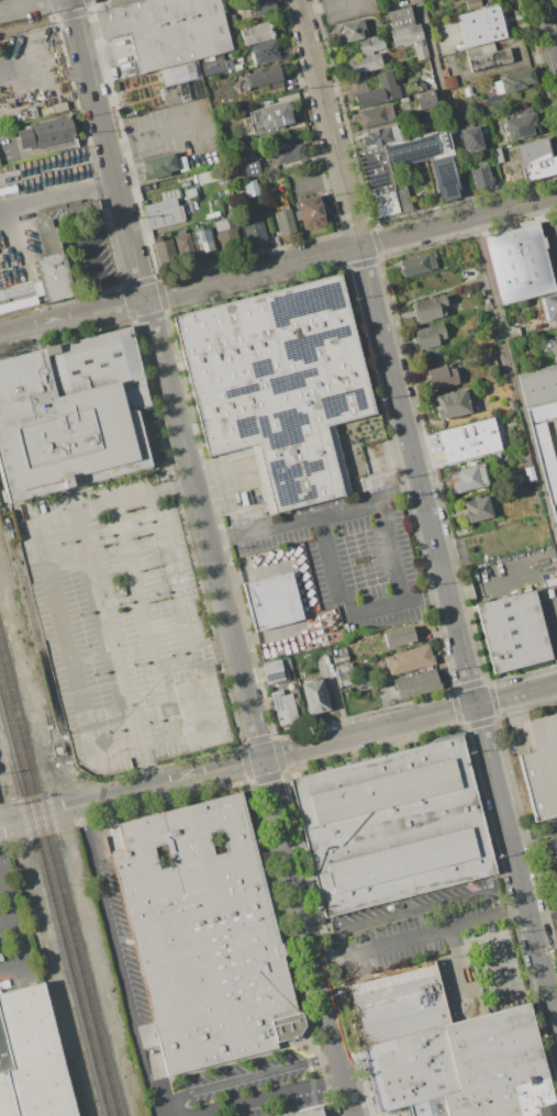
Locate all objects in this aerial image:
building: (471, 3)
road: (26, 5)
road: (321, 5)
building: (261, 7)
road: (552, 19)
building: (480, 25)
building: (167, 30)
building: (352, 30)
road: (79, 31)
building: (405, 31)
building: (255, 32)
building: (370, 44)
building: (264, 52)
building: (486, 56)
road: (12, 63)
building: (363, 63)
building: (215, 66)
building: (265, 78)
building: (512, 80)
building: (448, 81)
building: (177, 82)
building: (375, 90)
building: (424, 100)
building: (375, 115)
building: (269, 116)
building: (520, 124)
road: (101, 126)
building: (46, 134)
building: (378, 135)
road: (154, 136)
building: (470, 137)
building: (286, 153)
building: (489, 158)
building: (181, 164)
building: (247, 164)
building: (158, 167)
building: (538, 169)
building: (375, 175)
building: (479, 175)
building: (208, 176)
building: (444, 178)
building: (250, 187)
road: (58, 194)
building: (163, 210)
building: (309, 211)
road: (553, 212)
building: (282, 222)
building: (253, 227)
building: (226, 234)
building: (182, 242)
building: (203, 242)
road: (132, 244)
road: (88, 245)
building: (57, 247)
parking lot: (89, 252)
building: (164, 253)
building: (519, 263)
road: (279, 265)
building: (415, 265)
road: (488, 270)
building: (19, 297)
building: (549, 306)
building: (427, 309)
building: (427, 336)
road: (1, 337)
building: (554, 348)
road: (386, 353)
building: (483, 361)
building: (442, 377)
building: (278, 382)
building: (538, 387)
building: (450, 404)
building: (541, 412)
building: (71, 416)
building: (556, 431)
building: (468, 439)
building: (548, 464)
building: (468, 478)
building: (514, 490)
building: (477, 509)
road: (313, 512)
building: (554, 514)
road: (204, 528)
road: (392, 549)
parking lot: (349, 554)
road: (301, 593)
road: (177, 595)
road: (54, 601)
building: (272, 602)
road: (348, 605)
road: (143, 621)
parking lot: (125, 625)
building: (512, 630)
building: (398, 637)
road: (108, 652)
building: (408, 659)
building: (271, 671)
building: (345, 673)
building: (415, 682)
road: (516, 694)
building: (313, 695)
road: (338, 705)
building: (282, 706)
road: (293, 749)
building: (541, 769)
road: (56, 811)
railway: (52, 819)
building: (392, 826)
road: (534, 835)
building: (550, 845)
road: (516, 863)
railway: (58, 883)
railway: (54, 902)
road: (417, 911)
road: (12, 914)
road: (544, 916)
railway: (49, 919)
road: (7, 920)
building: (205, 934)
road: (309, 936)
road: (422, 938)
parking lot: (442, 944)
road: (328, 945)
road: (291, 948)
road: (120, 959)
road: (498, 959)
road: (14, 963)
road: (461, 970)
road: (554, 996)
building: (397, 1002)
building: (31, 1059)
building: (497, 1065)
building: (410, 1068)
parking lot: (250, 1087)
building: (422, 1108)
road: (159, 1112)
building: (305, 1112)
road: (159, 1114)
road: (325, 1114)
parking lot: (394, 1114)

